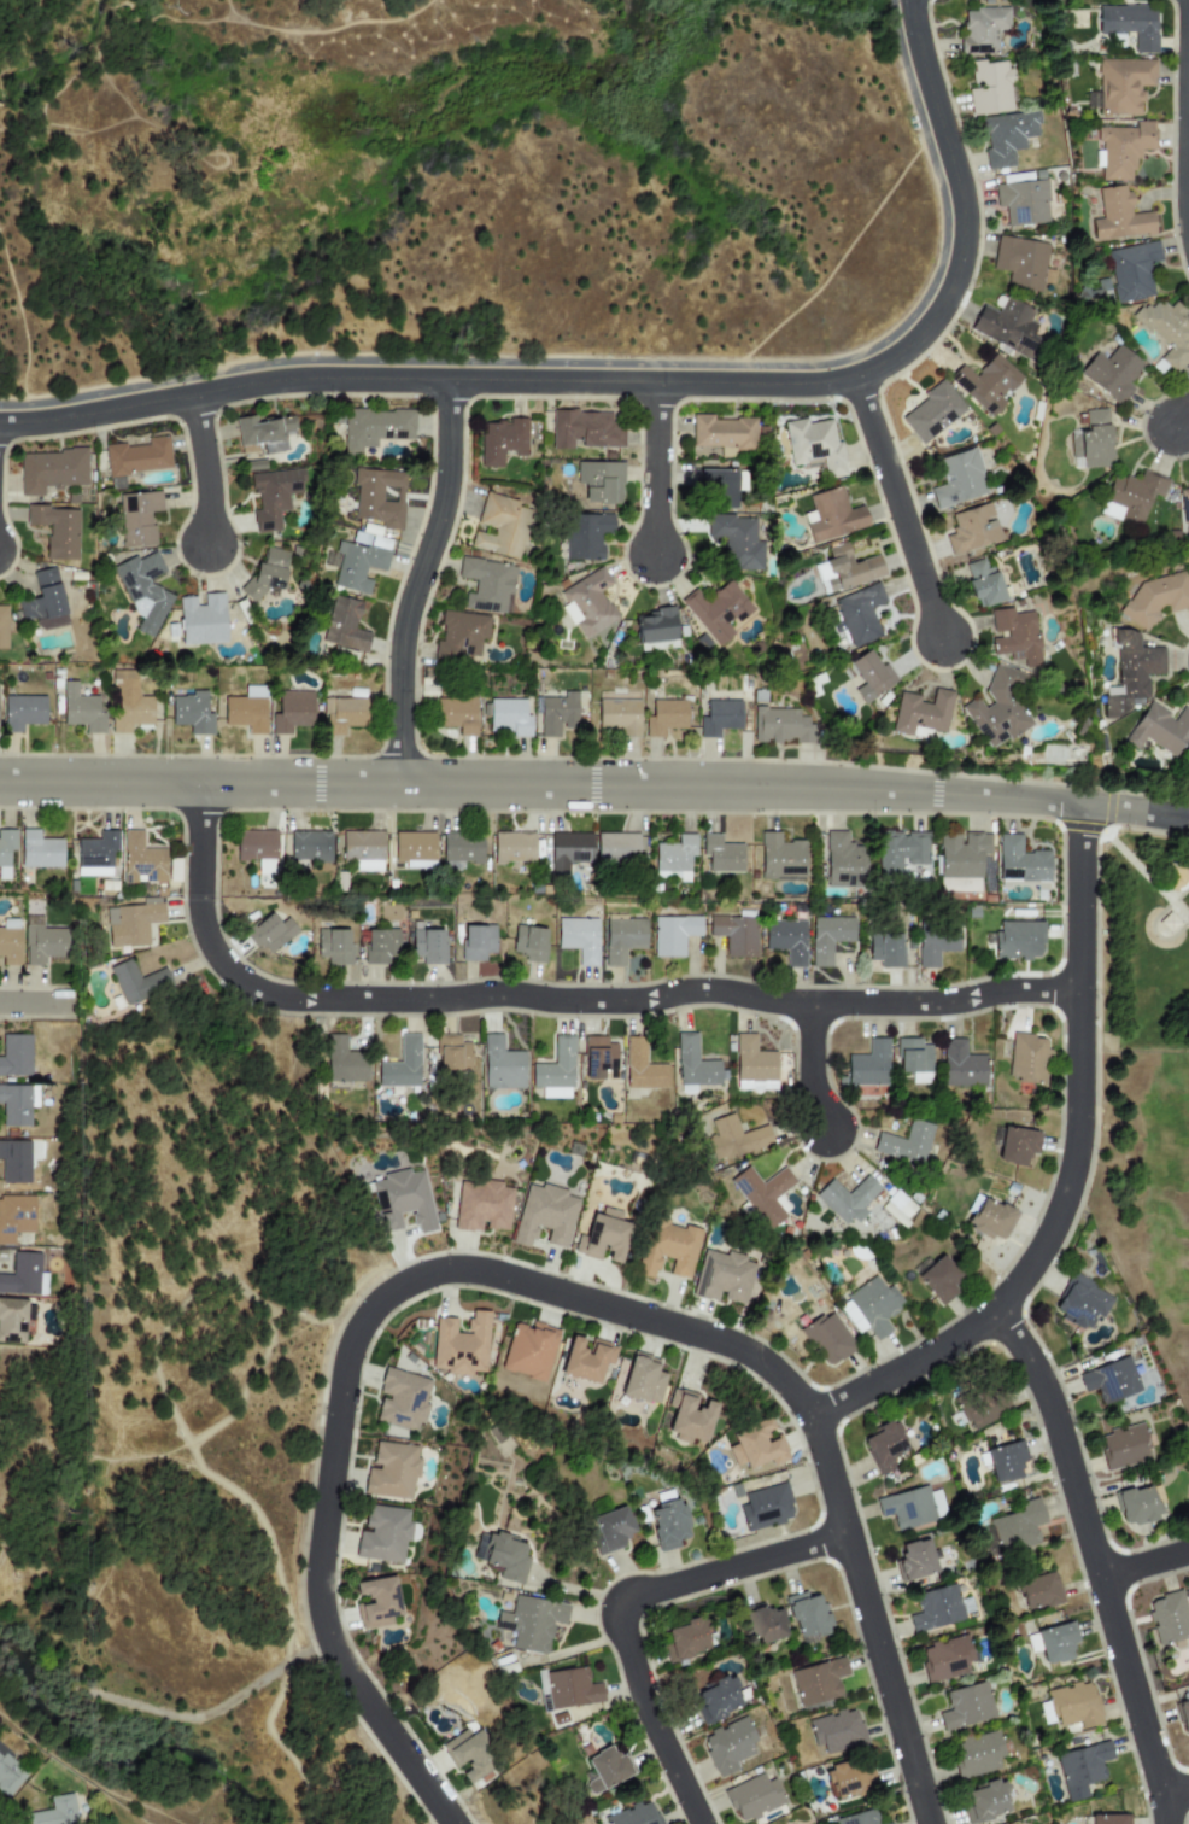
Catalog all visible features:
building: (1129, 24)
building: (982, 29)
building: (1123, 86)
building: (989, 88)
road: (1187, 113)
building: (1007, 136)
building: (1121, 150)
park: (457, 188)
road: (943, 197)
building: (1021, 201)
building: (1118, 216)
building: (1019, 262)
building: (1131, 270)
building: (1006, 326)
building: (1166, 331)
road: (424, 362)
building: (1111, 373)
road: (640, 381)
building: (985, 382)
building: (931, 413)
road: (1181, 417)
building: (374, 428)
building: (582, 431)
building: (263, 433)
building: (722, 433)
building: (1091, 440)
building: (500, 442)
building: (813, 445)
building: (137, 457)
road: (655, 468)
road: (204, 469)
building: (51, 470)
building: (956, 479)
building: (599, 481)
building: (716, 487)
building: (274, 496)
building: (379, 497)
building: (1130, 497)
building: (1184, 505)
road: (896, 507)
building: (830, 515)
building: (137, 518)
building: (500, 526)
building: (970, 528)
building: (55, 530)
building: (584, 536)
building: (736, 540)
street lamp: (240, 543)
building: (356, 566)
building: (843, 569)
building: (265, 574)
road: (417, 581)
building: (982, 584)
building: (486, 585)
building: (142, 590)
building: (1155, 598)
building: (43, 602)
building: (587, 603)
building: (716, 612)
building: (855, 615)
building: (201, 620)
building: (344, 625)
building: (654, 626)
building: (2, 627)
building: (461, 635)
building: (1013, 636)
street lamp: (971, 654)
building: (1129, 673)
building: (868, 676)
building: (128, 703)
building: (996, 708)
building: (81, 709)
building: (22, 712)
building: (292, 712)
building: (920, 712)
building: (191, 713)
building: (245, 713)
building: (344, 714)
building: (456, 714)
building: (557, 714)
building: (509, 717)
building: (619, 717)
building: (664, 717)
building: (719, 718)
building: (779, 726)
building: (1159, 730)
street lamp: (160, 754)
road: (375, 784)
road: (916, 793)
road: (1136, 812)
street lamp: (596, 815)
road: (199, 841)
building: (254, 844)
building: (309, 846)
building: (512, 847)
building: (616, 847)
building: (412, 849)
building: (459, 849)
building: (6, 850)
building: (39, 850)
building: (362, 850)
building: (568, 850)
building: (900, 850)
building: (96, 853)
building: (674, 854)
building: (720, 854)
building: (961, 854)
building: (780, 858)
building: (140, 860)
building: (842, 860)
building: (1020, 861)
building: (131, 923)
building: (269, 933)
building: (673, 934)
building: (734, 934)
building: (827, 937)
building: (579, 939)
building: (622, 940)
building: (1018, 940)
building: (786, 941)
building: (42, 942)
building: (529, 942)
building: (478, 943)
building: (382, 945)
building: (935, 945)
building: (333, 946)
building: (428, 946)
building: (10, 947)
building: (885, 949)
building: (137, 983)
street lamp: (1100, 996)
road: (611, 1001)
road: (35, 1002)
street lamp: (574, 1021)
building: (452, 1053)
building: (14, 1054)
building: (599, 1058)
building: (1027, 1058)
building: (914, 1059)
building: (752, 1060)
building: (344, 1062)
building: (695, 1063)
building: (402, 1064)
building: (868, 1064)
building: (502, 1065)
building: (961, 1065)
building: (642, 1066)
road: (810, 1068)
building: (555, 1071)
park: (1147, 1088)
building: (17, 1104)
building: (736, 1136)
building: (904, 1144)
building: (1017, 1145)
building: (14, 1161)
road: (1070, 1175)
building: (762, 1194)
building: (847, 1199)
building: (402, 1200)
building: (481, 1205)
building: (545, 1215)
building: (14, 1217)
building: (991, 1220)
building: (604, 1234)
building: (668, 1249)
street lamp: (504, 1257)
building: (23, 1275)
street lamp: (996, 1276)
road: (230, 1278)
building: (722, 1278)
building: (939, 1279)
building: (1080, 1302)
building: (869, 1308)
road: (617, 1310)
building: (11, 1321)
street lamp: (627, 1335)
building: (826, 1339)
building: (461, 1345)
building: (528, 1350)
building: (586, 1360)
building: (642, 1380)
building: (1109, 1380)
road: (244, 1386)
building: (400, 1399)
building: (982, 1407)
building: (689, 1416)
road: (28, 1434)
street lamp: (356, 1434)
building: (755, 1445)
building: (883, 1446)
building: (1124, 1446)
road: (171, 1450)
road: (60, 1451)
road: (110, 1458)
building: (1004, 1461)
road: (178, 1462)
building: (391, 1471)
building: (1141, 1506)
building: (766, 1507)
building: (906, 1508)
building: (668, 1525)
building: (1013, 1528)
building: (609, 1530)
building: (382, 1534)
road: (268, 1538)
building: (504, 1556)
building: (914, 1561)
road: (1094, 1561)
road: (317, 1563)
road: (1143, 1565)
building: (1038, 1591)
street lamp: (720, 1592)
building: (376, 1602)
road: (619, 1602)
building: (935, 1608)
building: (807, 1615)
building: (1167, 1618)
road: (869, 1620)
building: (531, 1623)
building: (766, 1625)
building: (684, 1641)
building: (1055, 1642)
building: (944, 1659)
road: (264, 1677)
building: (818, 1682)
building: (572, 1689)
building: (543, 1691)
building: (715, 1700)
building: (966, 1706)
building: (1073, 1706)
road: (143, 1708)
street lamp: (396, 1709)
building: (1045, 1713)
building: (1183, 1717)
building: (836, 1731)
road: (277, 1746)
building: (727, 1746)
building: (467, 1753)
building: (976, 1754)
building: (604, 1769)
building: (1082, 1769)
building: (10, 1773)
road: (87, 1778)
building: (850, 1779)
road: (1173, 1788)
building: (752, 1797)
building: (985, 1802)
building: (55, 1812)
building: (633, 1814)
building: (857, 1818)
building: (1108, 1819)
building: (888, 1823)
building: (890, 1823)

